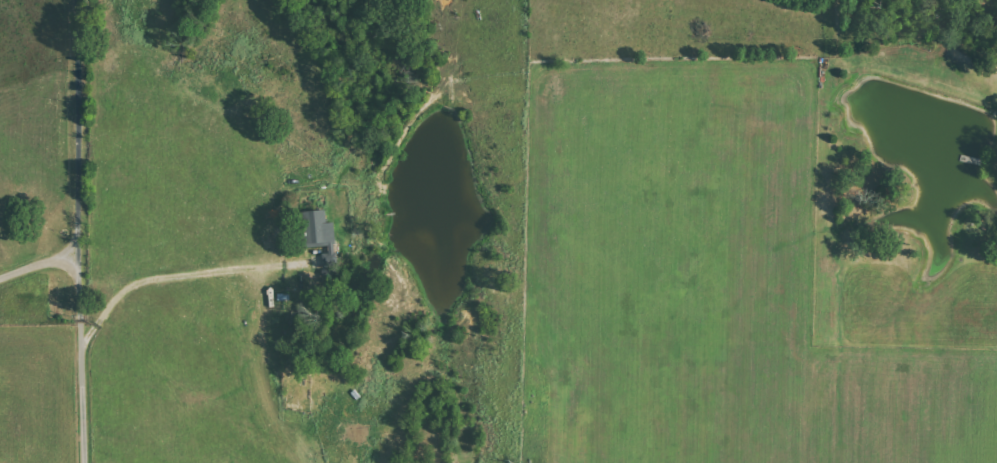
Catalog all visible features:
road: (79, 231)
building: (323, 238)
road: (39, 269)
road: (162, 282)

